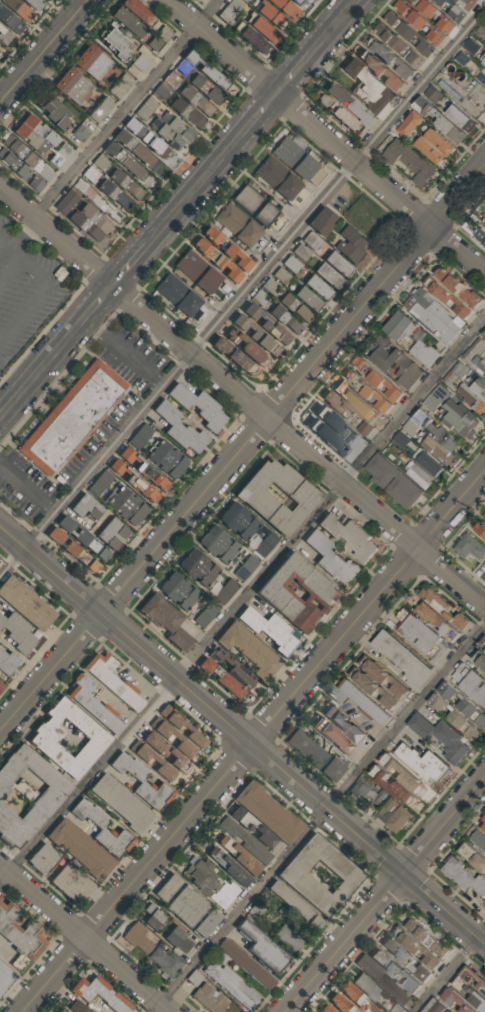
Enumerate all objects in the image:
building: (246, 0)
building: (34, 4)
building: (467, 4)
building: (287, 8)
building: (18, 9)
building: (231, 10)
building: (452, 10)
building: (137, 11)
building: (270, 12)
building: (439, 15)
building: (9, 21)
building: (127, 21)
building: (418, 21)
building: (263, 27)
road: (334, 27)
building: (407, 32)
building: (4, 34)
building: (252, 36)
building: (153, 42)
building: (113, 43)
building: (397, 44)
building: (0, 45)
building: (472, 45)
road: (43, 51)
building: (393, 57)
building: (463, 57)
building: (483, 60)
building: (91, 61)
building: (139, 62)
building: (382, 69)
building: (205, 70)
building: (481, 76)
building: (172, 79)
building: (72, 86)
building: (120, 86)
building: (207, 88)
building: (162, 90)
building: (370, 90)
building: (197, 99)
building: (349, 106)
building: (145, 107)
road: (127, 109)
building: (100, 110)
building: (55, 112)
building: (188, 112)
building: (337, 112)
building: (462, 117)
building: (439, 119)
building: (409, 123)
building: (171, 128)
building: (79, 132)
building: (33, 133)
building: (145, 137)
road: (326, 137)
building: (435, 147)
building: (134, 149)
building: (58, 154)
building: (293, 159)
building: (124, 161)
building: (409, 161)
building: (25, 162)
building: (277, 178)
building: (126, 183)
building: (116, 194)
building: (66, 201)
building: (107, 207)
building: (258, 208)
building: (321, 220)
building: (90, 221)
building: (483, 224)
building: (241, 227)
road: (156, 235)
building: (480, 235)
building: (312, 239)
building: (351, 245)
building: (226, 249)
building: (302, 251)
building: (217, 261)
building: (292, 263)
building: (339, 263)
building: (197, 272)
building: (329, 275)
building: (270, 284)
building: (319, 286)
building: (465, 289)
parking lot: (27, 291)
road: (242, 293)
building: (177, 294)
building: (260, 296)
building: (446, 296)
building: (309, 298)
building: (297, 307)
building: (431, 315)
building: (287, 318)
building: (265, 321)
building: (397, 327)
building: (255, 333)
building: (483, 333)
building: (249, 350)
road: (124, 352)
building: (423, 352)
building: (474, 352)
building: (233, 357)
building: (394, 365)
building: (482, 366)
building: (454, 374)
building: (484, 375)
building: (376, 378)
building: (366, 390)
building: (474, 395)
road: (242, 398)
building: (339, 403)
building: (197, 406)
building: (452, 411)
building: (74, 419)
building: (365, 428)
building: (179, 429)
building: (332, 430)
building: (140, 435)
building: (432, 436)
road: (242, 447)
building: (165, 460)
building: (428, 461)
building: (144, 470)
building: (418, 475)
building: (390, 480)
building: (99, 482)
building: (134, 482)
road: (28, 486)
building: (276, 496)
building: (125, 506)
building: (84, 507)
building: (237, 520)
building: (481, 528)
building: (110, 533)
building: (348, 536)
building: (82, 539)
building: (218, 544)
building: (265, 544)
building: (469, 547)
building: (73, 551)
building: (330, 560)
building: (198, 567)
building: (245, 567)
building: (224, 591)
building: (178, 592)
building: (297, 592)
road: (242, 602)
building: (24, 603)
building: (443, 608)
building: (205, 614)
building: (436, 621)
building: (166, 622)
building: (268, 629)
building: (17, 633)
building: (423, 637)
building: (482, 643)
building: (248, 648)
building: (402, 659)
building: (479, 660)
building: (6, 662)
building: (231, 666)
building: (385, 676)
building: (221, 679)
building: (112, 682)
building: (470, 684)
building: (0, 685)
building: (375, 687)
building: (356, 699)
building: (463, 705)
building: (93, 706)
building: (453, 716)
building: (341, 724)
building: (181, 726)
road: (242, 734)
building: (330, 736)
building: (439, 736)
building: (67, 737)
building: (171, 737)
road: (254, 741)
building: (164, 752)
building: (313, 754)
building: (152, 760)
building: (421, 764)
building: (400, 774)
building: (140, 781)
building: (392, 787)
building: (27, 793)
building: (364, 794)
building: (120, 803)
building: (265, 811)
building: (484, 815)
building: (392, 817)
road: (320, 819)
building: (100, 827)
building: (257, 829)
building: (483, 829)
building: (478, 838)
building: (244, 839)
building: (80, 850)
building: (239, 856)
building: (472, 857)
building: (41, 858)
building: (229, 866)
building: (319, 874)
building: (463, 878)
building: (210, 882)
building: (70, 883)
building: (167, 887)
road: (386, 896)
building: (295, 904)
building: (187, 905)
building: (255, 910)
building: (152, 916)
building: (205, 923)
building: (136, 937)
building: (289, 937)
building: (17, 939)
road: (83, 939)
building: (426, 939)
building: (177, 940)
building: (261, 946)
building: (416, 948)
building: (405, 960)
building: (165, 962)
building: (247, 963)
building: (394, 971)
road: (450, 971)
building: (6, 977)
building: (193, 978)
building: (383, 979)
building: (473, 979)
building: (230, 984)
building: (369, 986)
building: (99, 994)
building: (471, 995)
building: (355, 998)
building: (212, 1000)
building: (454, 1001)
building: (340, 1004)
building: (75, 1007)
building: (436, 1007)
building: (396, 1008)
building: (325, 1009)
building: (63, 1010)
building: (449, 1011)

